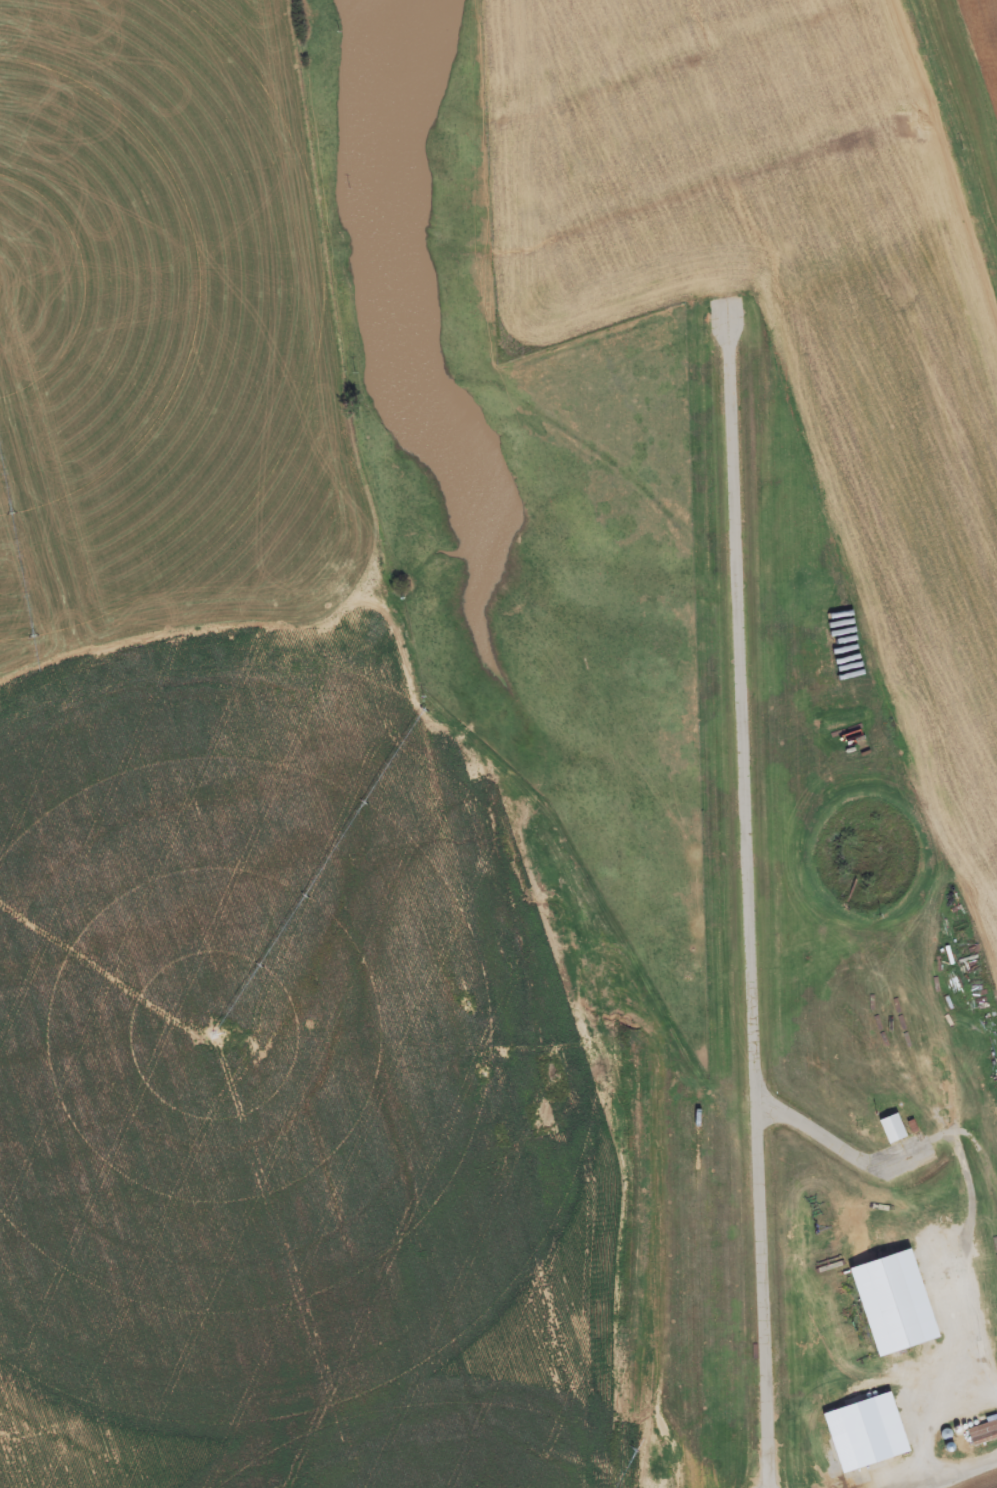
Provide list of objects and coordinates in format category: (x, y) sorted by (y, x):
road: (946, 164)
airport runway: (749, 902)
building: (888, 1303)
road: (582, 1353)
building: (863, 1434)

